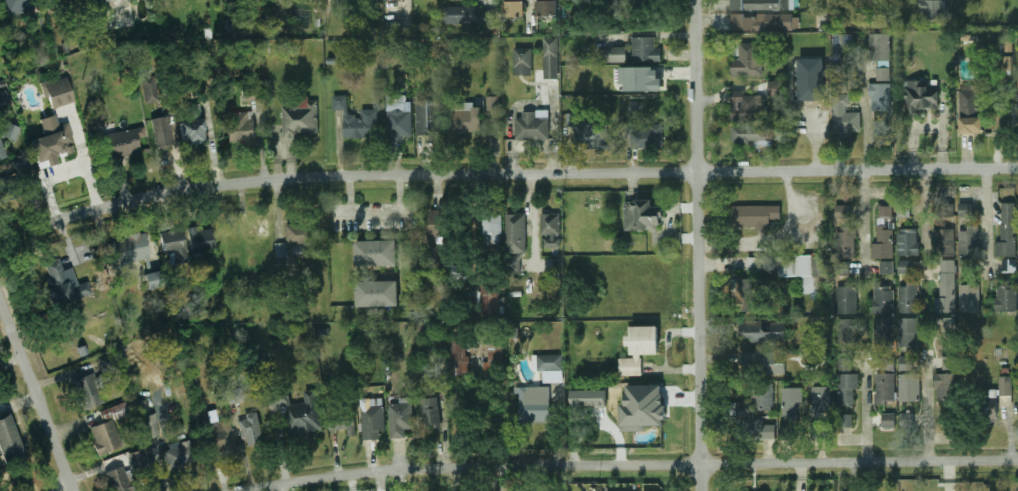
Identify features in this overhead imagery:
building: (330, 0)
road: (486, 1)
building: (765, 4)
building: (19, 6)
building: (514, 8)
building: (548, 8)
building: (935, 9)
road: (527, 10)
building: (647, 11)
building: (465, 15)
building: (767, 21)
building: (881, 47)
building: (844, 48)
building: (645, 50)
building: (617, 54)
building: (751, 59)
building: (525, 61)
building: (1006, 62)
building: (552, 64)
building: (886, 74)
building: (640, 79)
building: (812, 79)
building: (842, 82)
building: (3, 85)
building: (776, 88)
building: (149, 89)
building: (57, 92)
building: (251, 94)
building: (922, 95)
building: (882, 96)
building: (3, 97)
building: (494, 104)
building: (637, 107)
building: (751, 108)
building: (970, 109)
road: (864, 110)
building: (846, 116)
building: (300, 117)
building: (427, 118)
building: (358, 119)
building: (464, 121)
building: (400, 124)
building: (191, 125)
building: (239, 127)
building: (532, 127)
building: (587, 132)
building: (885, 132)
building: (164, 134)
building: (751, 134)
building: (648, 137)
building: (52, 142)
building: (126, 143)
road: (815, 145)
building: (2, 150)
building: (23, 165)
road: (67, 171)
road: (505, 177)
building: (6, 190)
road: (530, 196)
building: (966, 208)
building: (944, 209)
building: (886, 210)
building: (904, 210)
road: (409, 212)
road: (376, 214)
building: (642, 214)
building: (754, 215)
road: (342, 216)
road: (986, 222)
road: (863, 224)
road: (925, 225)
building: (551, 228)
building: (492, 229)
building: (193, 230)
building: (1008, 231)
building: (845, 232)
building: (969, 236)
building: (515, 240)
road: (775, 240)
building: (173, 241)
building: (202, 241)
building: (907, 241)
building: (883, 242)
building: (944, 242)
building: (434, 243)
building: (280, 244)
road: (473, 244)
road: (698, 245)
building: (376, 252)
building: (137, 256)
building: (182, 256)
building: (1008, 265)
building: (257, 266)
building: (948, 266)
building: (967, 266)
building: (887, 268)
building: (906, 268)
building: (457, 271)
building: (792, 271)
building: (844, 271)
building: (557, 276)
building: (64, 284)
building: (378, 293)
building: (1007, 295)
building: (745, 296)
building: (947, 296)
building: (909, 297)
building: (970, 297)
building: (848, 298)
building: (884, 299)
building: (490, 300)
building: (324, 330)
building: (763, 331)
building: (514, 332)
building: (908, 335)
building: (885, 336)
building: (948, 340)
building: (847, 343)
building: (638, 349)
building: (85, 351)
building: (459, 353)
building: (494, 353)
building: (546, 362)
building: (105, 363)
building: (887, 363)
building: (906, 363)
building: (946, 386)
building: (910, 387)
building: (846, 388)
building: (886, 388)
road: (37, 391)
building: (88, 391)
building: (822, 393)
building: (756, 396)
building: (235, 397)
building: (597, 397)
building: (989, 398)
building: (793, 401)
building: (534, 403)
road: (20, 404)
building: (642, 407)
road: (927, 408)
building: (297, 409)
road: (867, 409)
building: (431, 411)
building: (401, 417)
building: (373, 419)
building: (846, 419)
building: (889, 420)
building: (908, 420)
building: (344, 424)
building: (152, 426)
building: (252, 429)
building: (109, 430)
building: (784, 434)
building: (222, 436)
building: (11, 442)
building: (181, 456)
building: (137, 460)
road: (638, 466)
road: (16, 477)
park: (31, 479)
building: (117, 481)
road: (281, 489)

